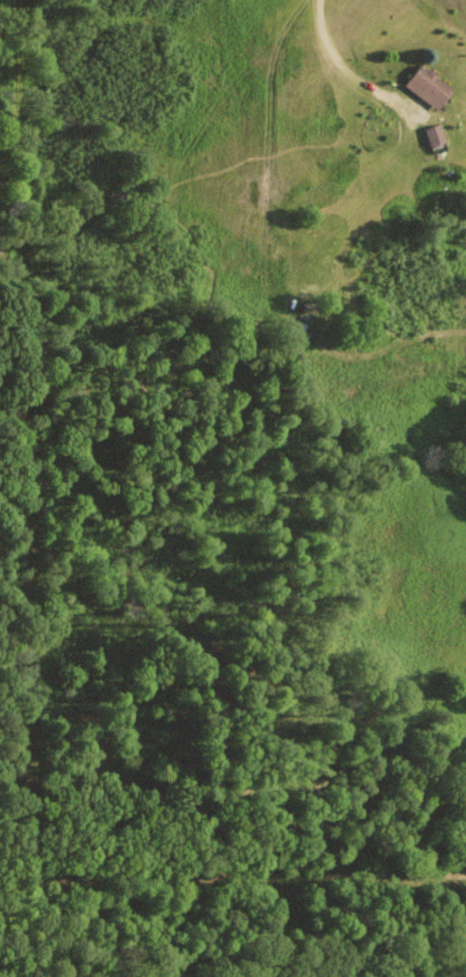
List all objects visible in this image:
building: (424, 86)
building: (430, 134)
road: (231, 891)

